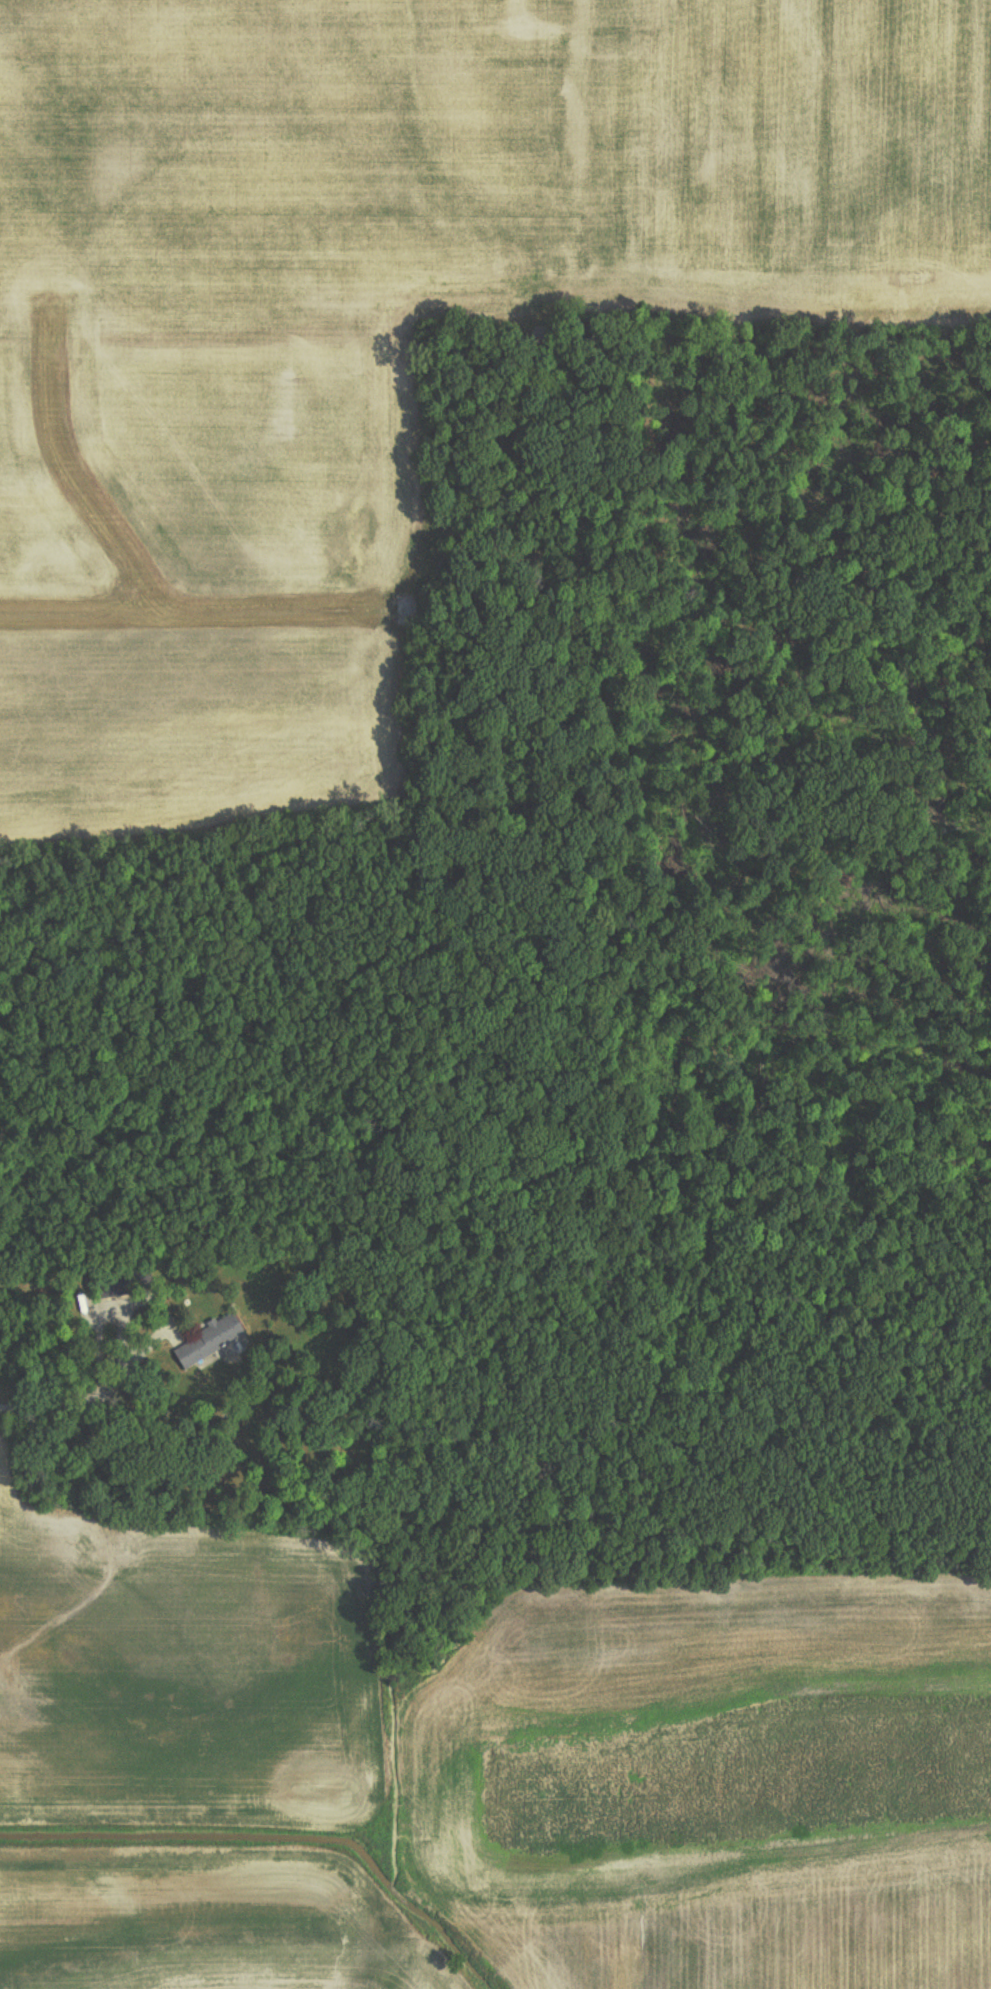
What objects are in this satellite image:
building: (105, 1288)
building: (207, 1340)
road: (94, 1400)

